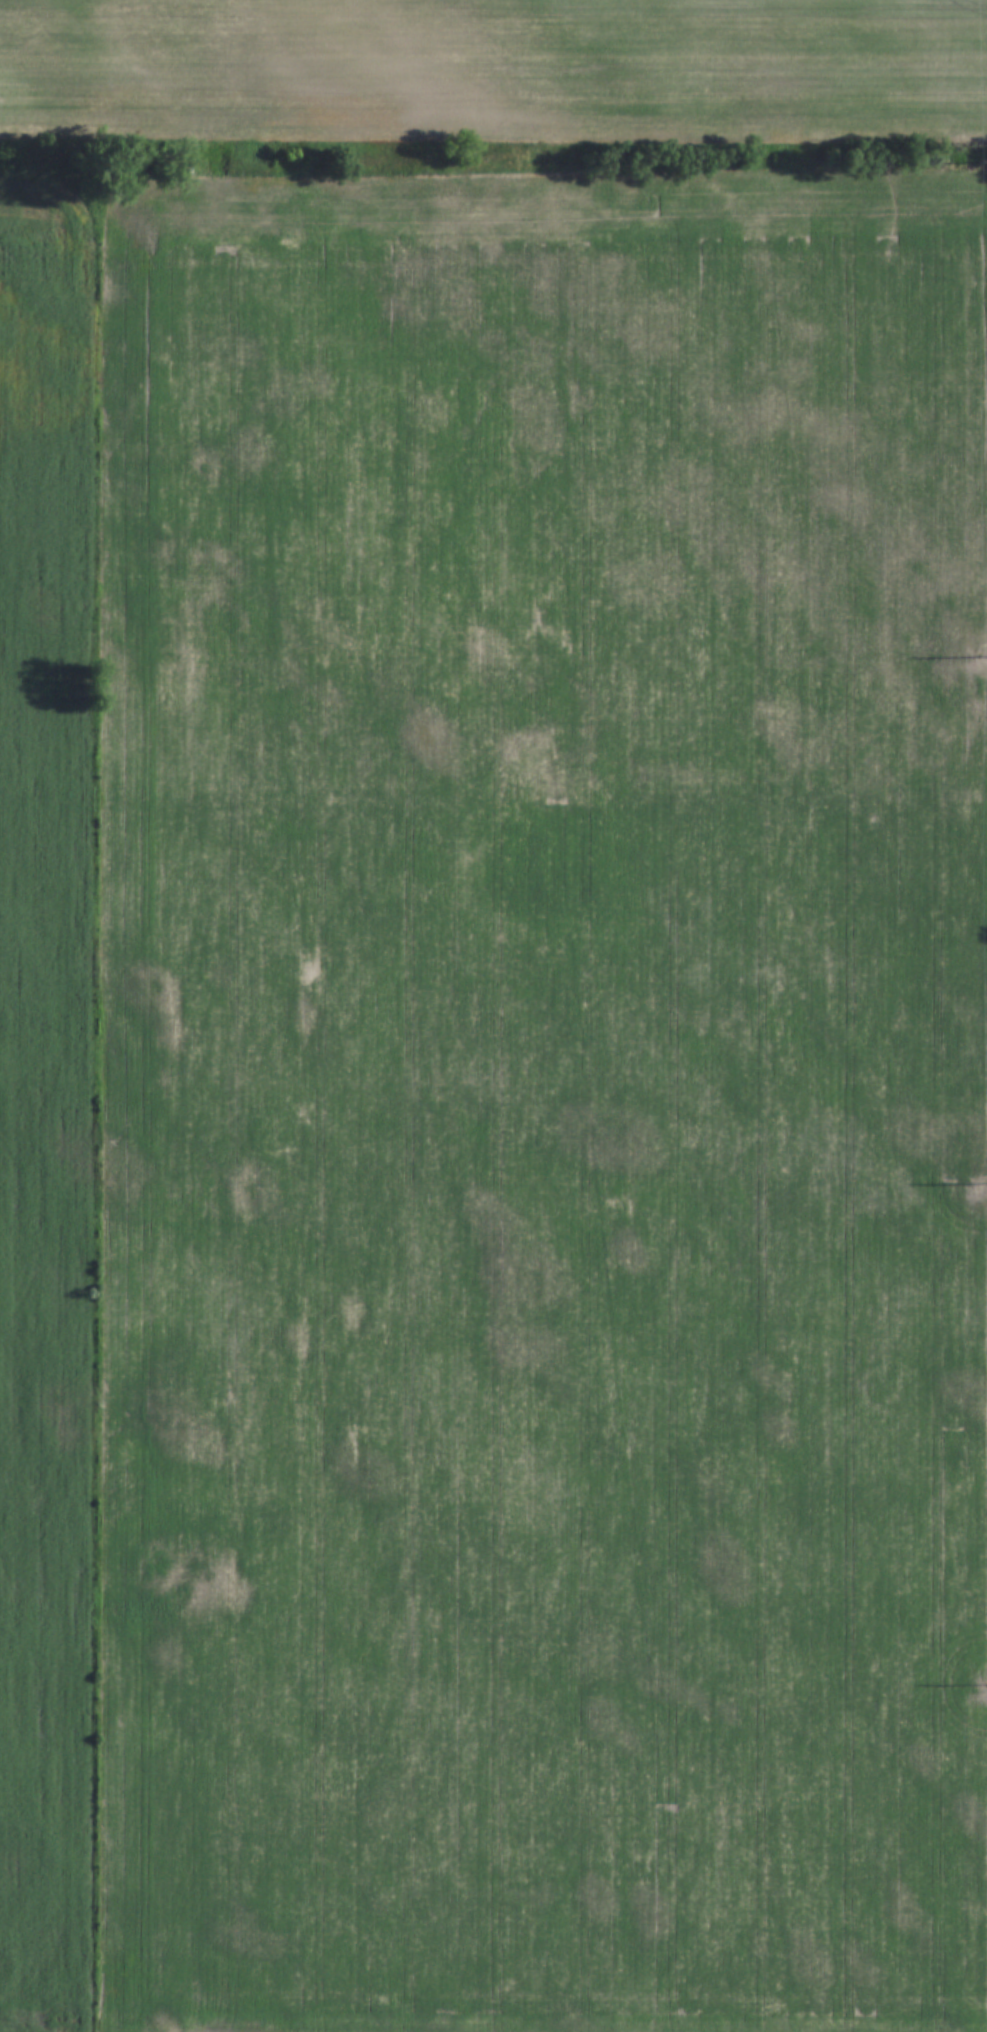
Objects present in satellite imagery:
power tower: (984, 161)
power tower: (984, 654)

